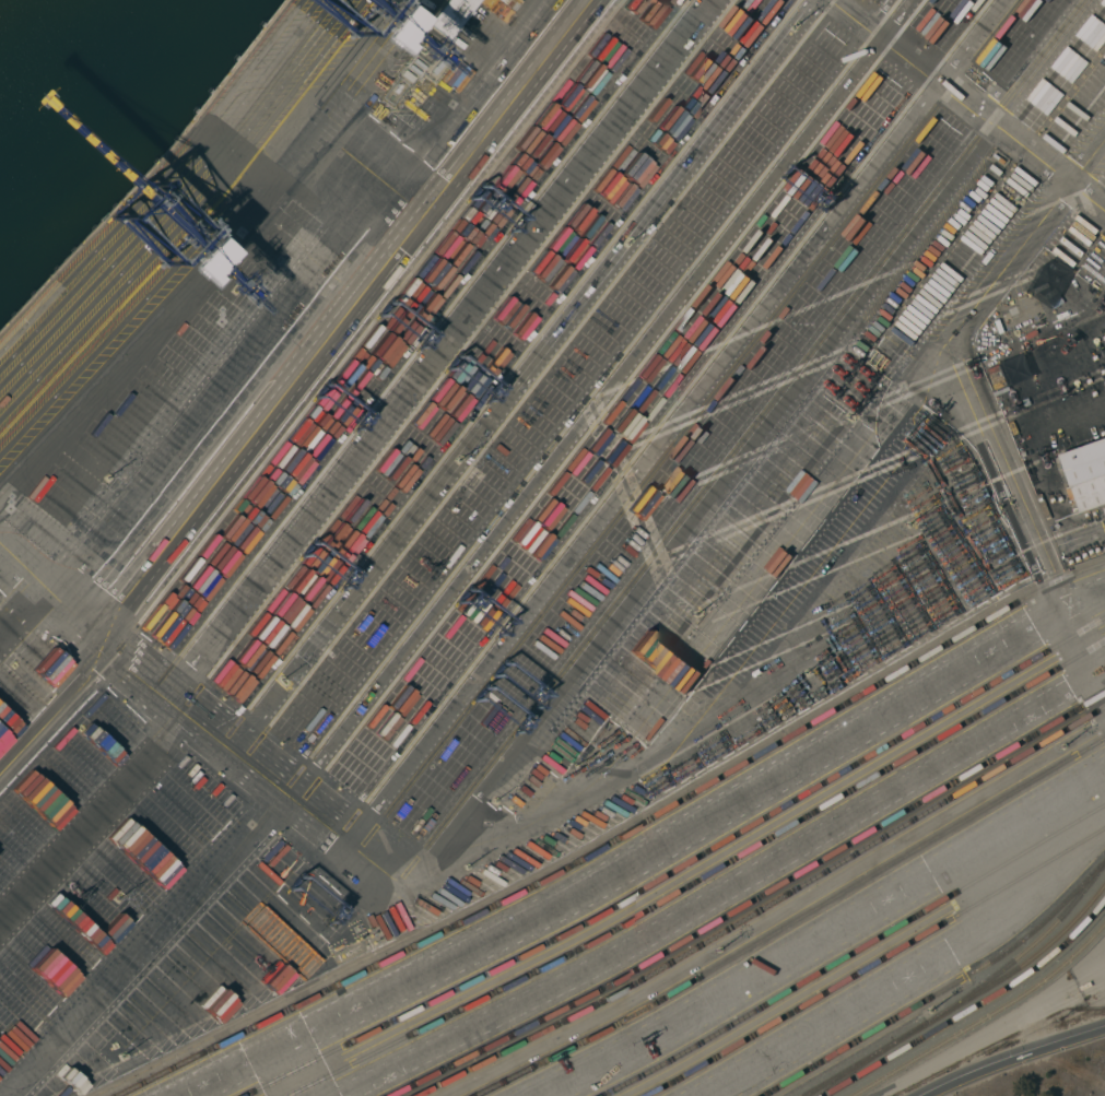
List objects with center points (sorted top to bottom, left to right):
building: (451, 16)
building: (419, 56)
building: (408, 75)
road: (992, 457)
building: (1086, 473)
road: (1077, 544)
railway: (855, 698)
railway: (621, 839)
railway: (682, 868)
railway: (703, 877)
railway: (765, 908)
railway: (792, 922)
railway: (856, 953)
railway: (1023, 955)
railway: (877, 963)
railway: (366, 973)
building: (1085, 986)
railway: (944, 990)
railway: (964, 1003)
railway: (974, 1010)
railway: (986, 1017)
railway: (986, 1018)
road: (1016, 1061)
railway: (855, 1070)

